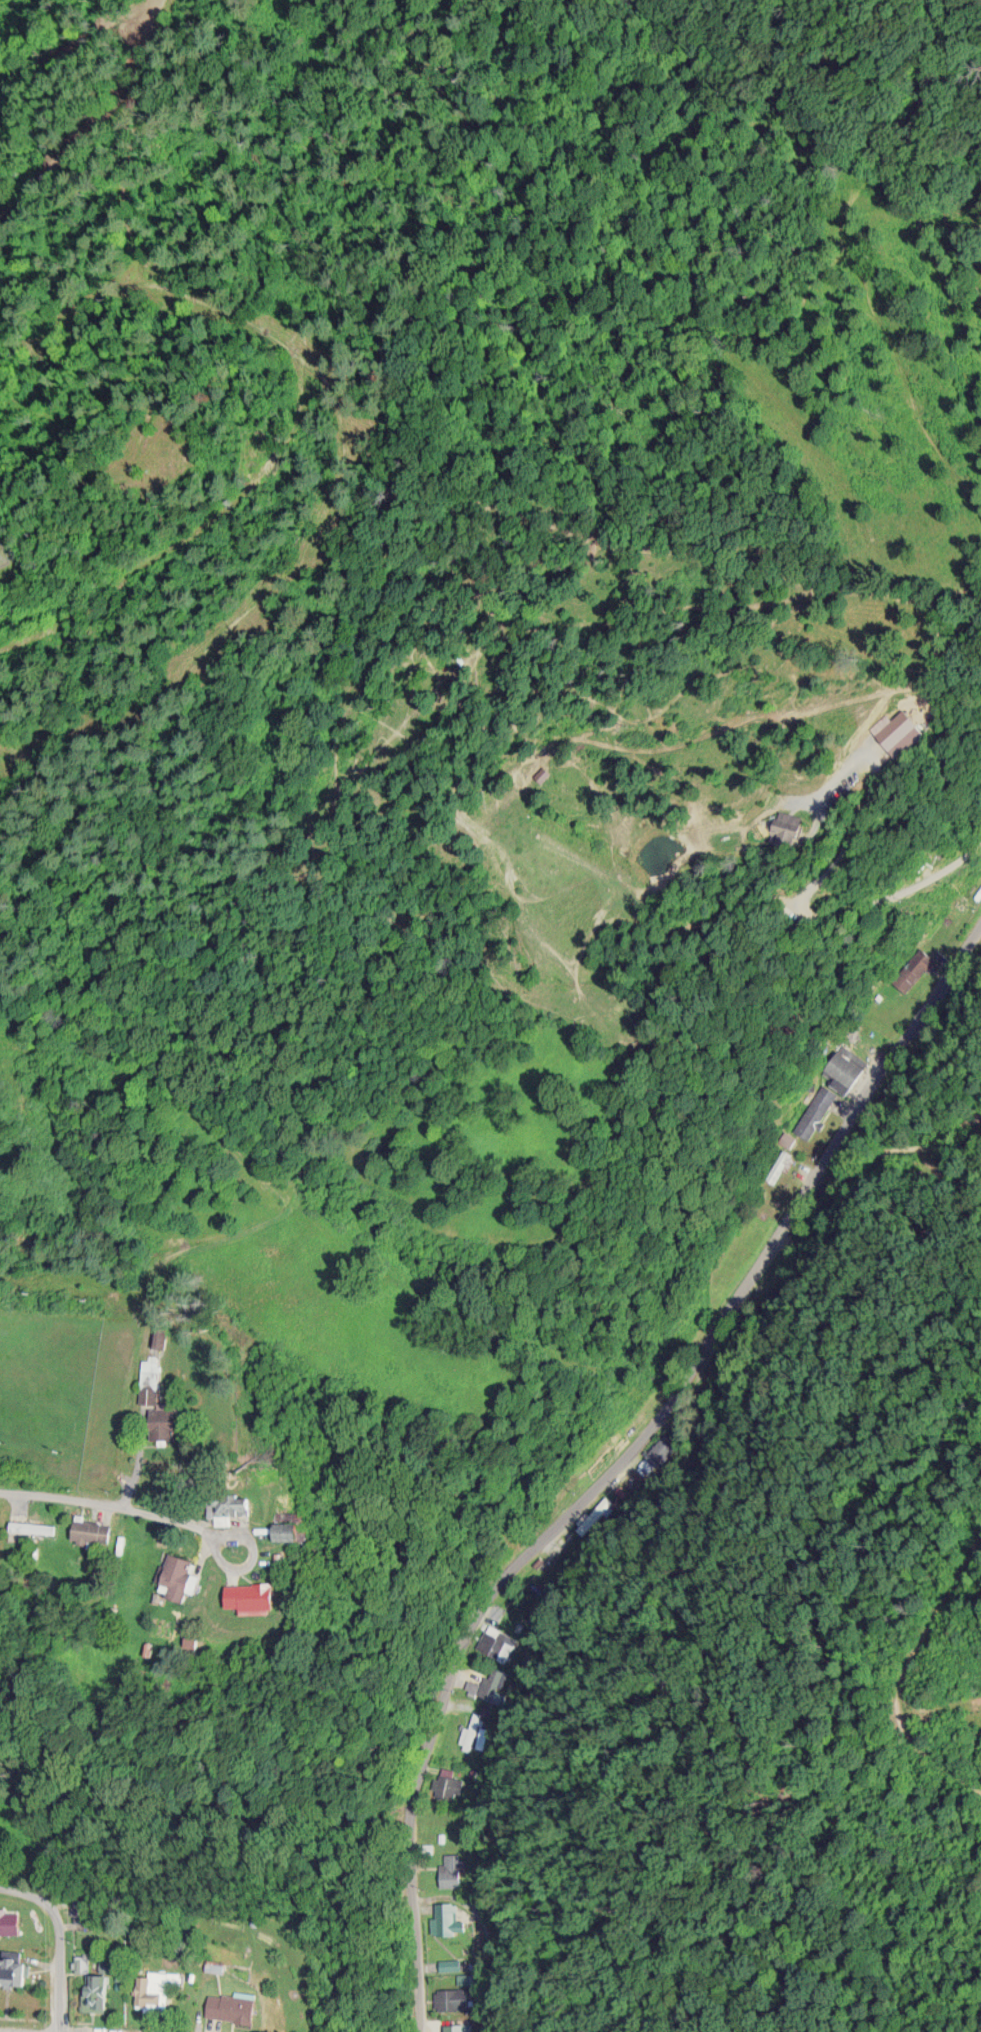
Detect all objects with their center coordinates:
road: (94, 115)
road: (834, 650)
road: (806, 903)
building: (839, 1072)
building: (158, 1336)
building: (152, 1403)
road: (622, 1457)
road: (136, 1474)
road: (132, 1506)
building: (221, 1506)
building: (37, 1526)
building: (95, 1529)
building: (173, 1576)
building: (238, 1594)
building: (497, 1641)
building: (471, 1725)
building: (447, 1784)
building: (450, 1869)
road: (27, 1896)
building: (446, 1918)
building: (11, 1922)
building: (16, 1969)
road: (58, 1969)
building: (150, 1989)
building: (96, 1990)
building: (451, 1998)
building: (217, 2006)
road: (50, 2030)

